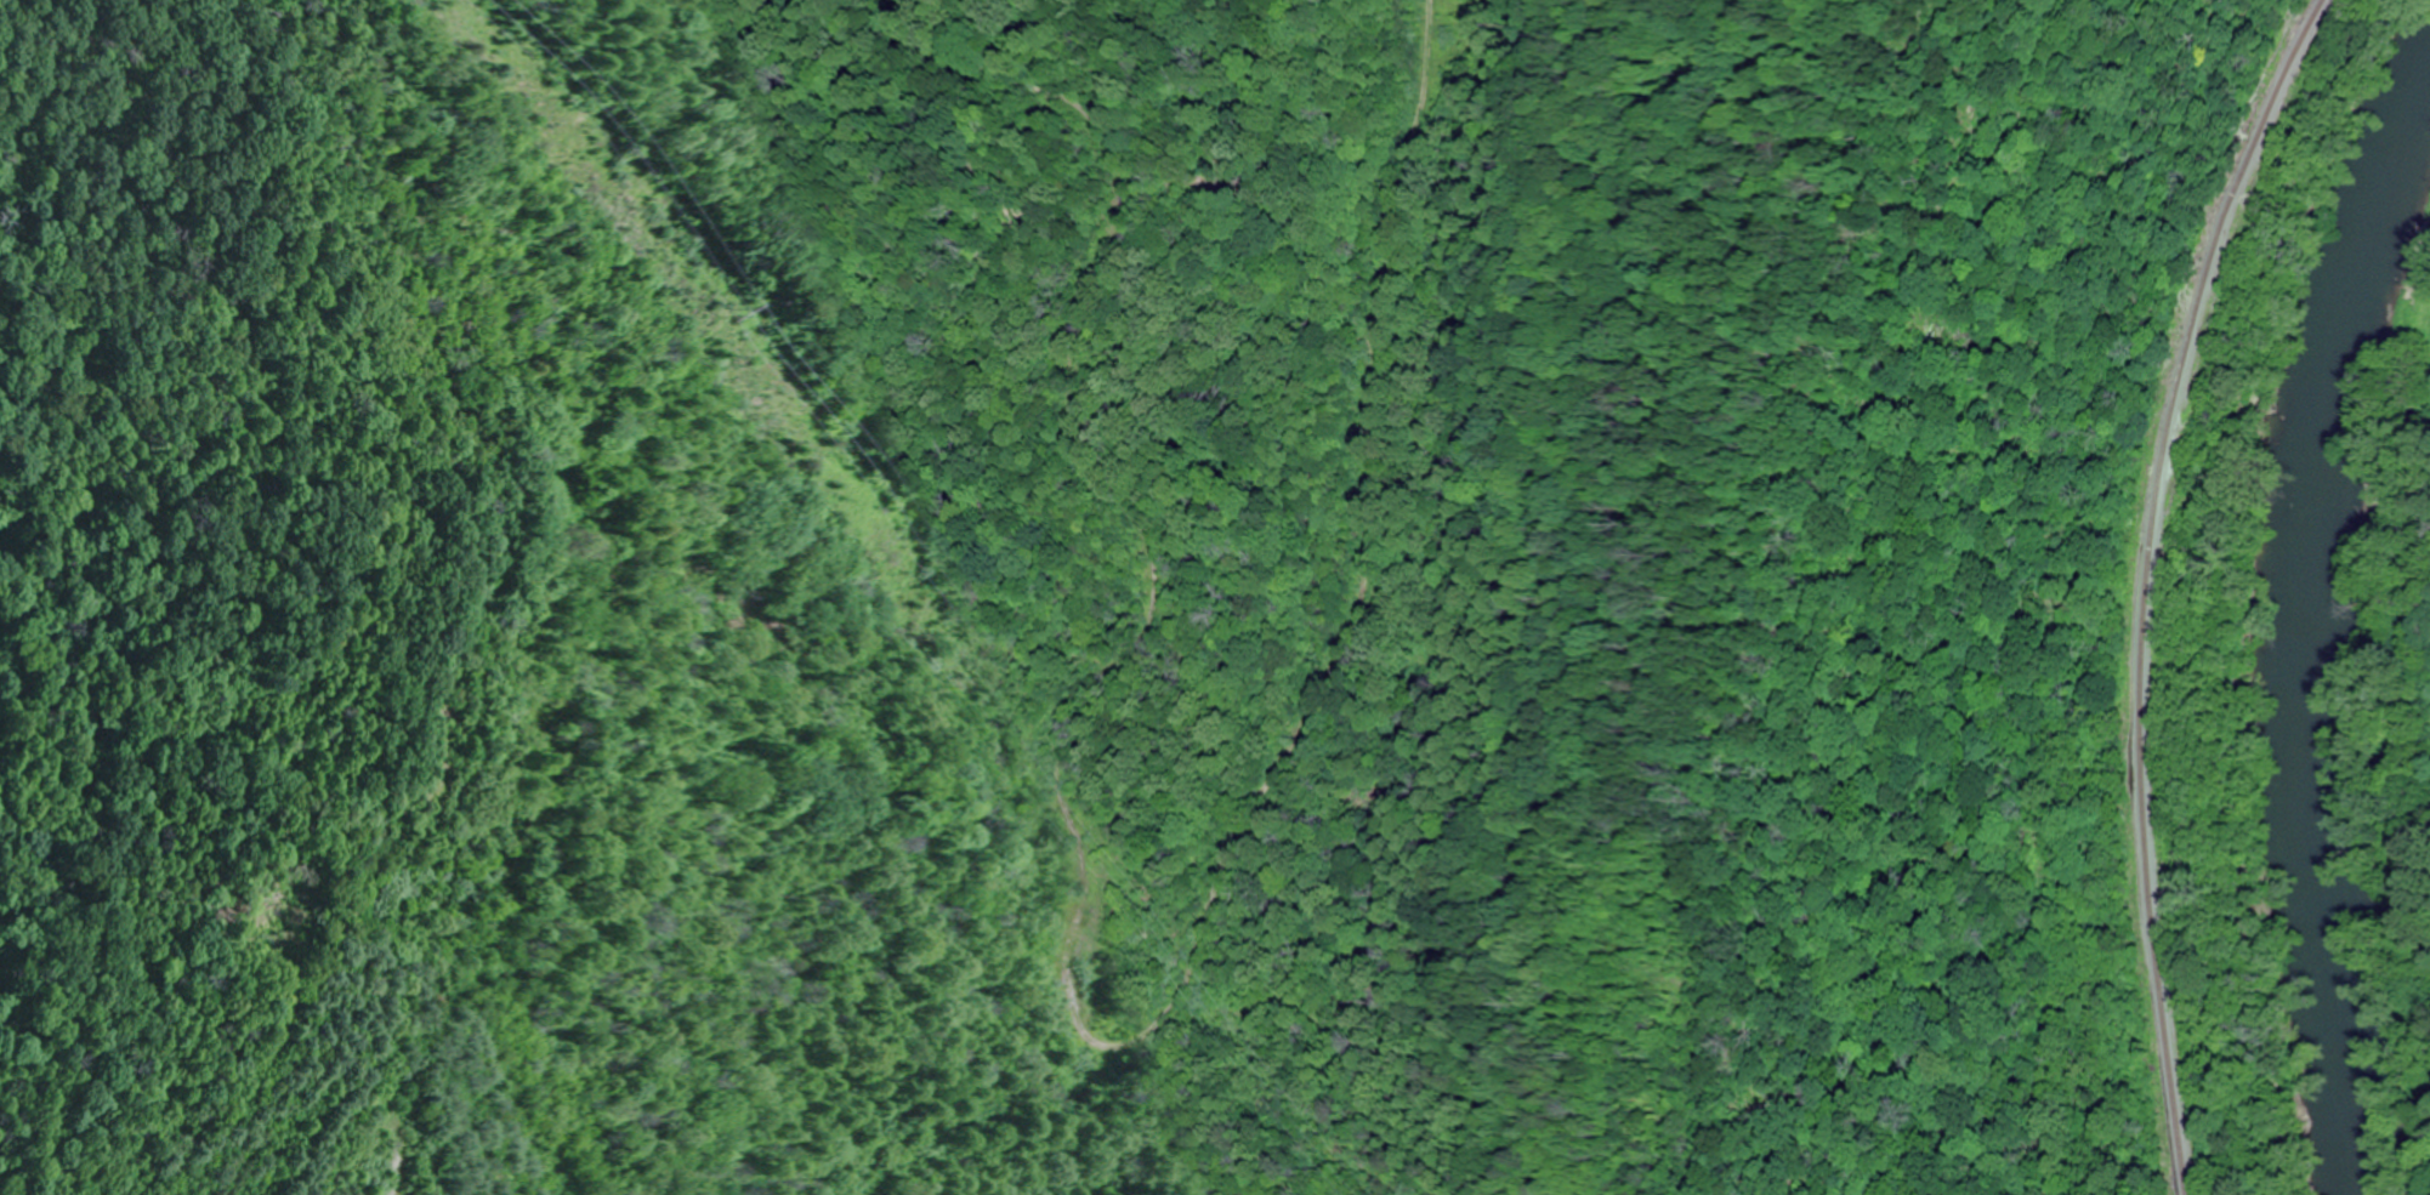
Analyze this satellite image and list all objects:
railway: (2159, 588)
river: (2315, 635)

